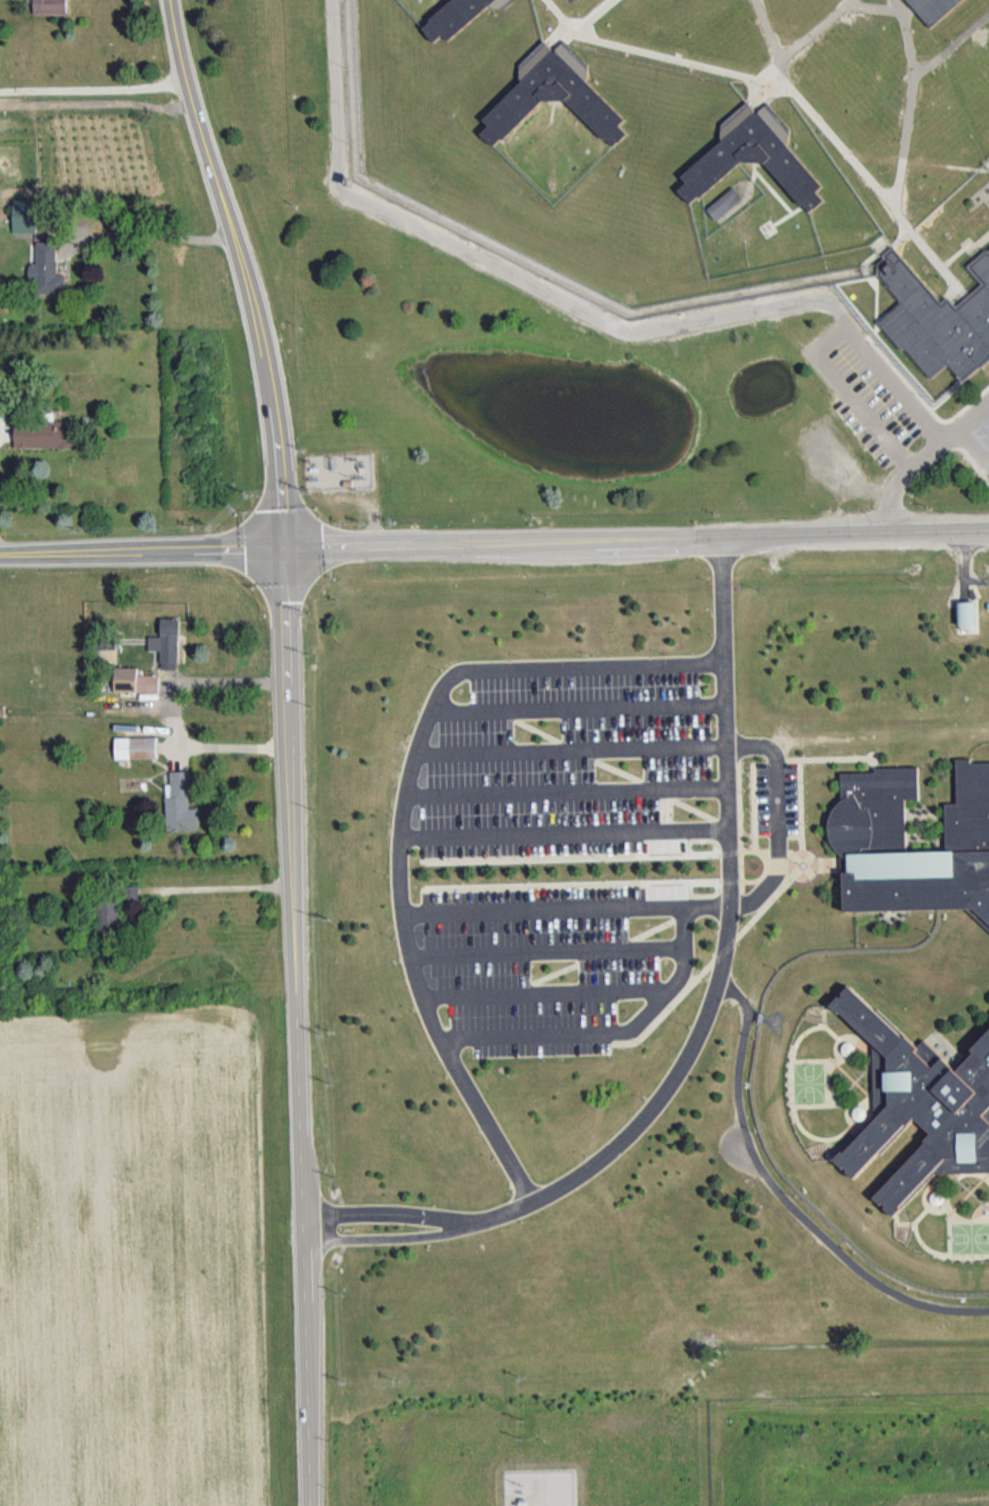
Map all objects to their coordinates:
building: (50, 6)
building: (931, 8)
building: (453, 16)
road: (93, 85)
building: (553, 94)
crop: (76, 145)
building: (753, 155)
building: (724, 202)
road: (229, 212)
building: (25, 214)
road: (153, 234)
building: (47, 270)
road: (564, 307)
building: (936, 317)
building: (45, 433)
road: (915, 455)
power substation: (338, 469)
road: (325, 472)
road: (339, 472)
building: (347, 482)
road: (283, 488)
road: (355, 497)
road: (900, 533)
road: (373, 535)
road: (765, 537)
road: (661, 540)
road: (507, 544)
road: (349, 548)
traffic signals: (288, 550)
road: (223, 551)
road: (79, 555)
building: (967, 612)
road: (290, 617)
building: (167, 642)
road: (197, 678)
building: (135, 680)
road: (577, 704)
road: (233, 745)
road: (572, 746)
building: (136, 747)
road: (566, 790)
building: (180, 802)
road: (402, 810)
road: (781, 816)
road: (562, 830)
building: (869, 836)
road: (218, 886)
road: (707, 900)
road: (543, 906)
building: (108, 915)
road: (299, 934)
road: (725, 941)
road: (549, 947)
road: (678, 978)
road: (545, 993)
road: (531, 1031)
building: (917, 1097)
road: (782, 1194)
road: (381, 1212)
road: (306, 1223)
road: (385, 1238)
road: (308, 1294)
road: (311, 1416)
power substation: (544, 1490)

